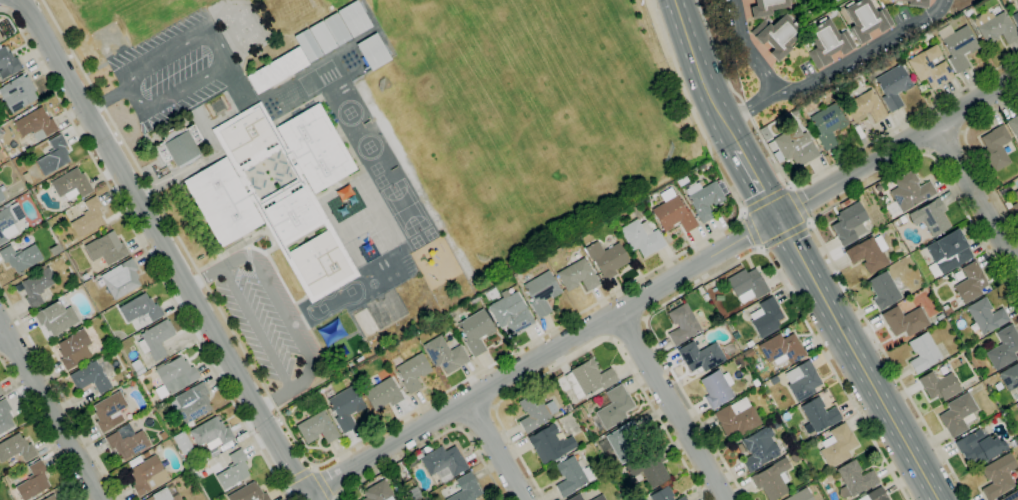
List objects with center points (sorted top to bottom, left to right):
building: (1017, 1)
building: (917, 3)
building: (766, 7)
park: (814, 9)
building: (968, 13)
road: (817, 15)
building: (1015, 18)
building: (866, 20)
building: (994, 27)
building: (926, 35)
building: (776, 36)
building: (1, 38)
building: (827, 43)
building: (312, 45)
building: (958, 45)
building: (373, 51)
road: (221, 55)
building: (8, 63)
road: (695, 63)
building: (929, 67)
road: (819, 77)
building: (893, 86)
building: (17, 93)
road: (106, 98)
road: (751, 107)
building: (865, 107)
building: (794, 113)
building: (35, 124)
building: (827, 124)
building: (1013, 125)
road: (946, 143)
building: (179, 145)
building: (792, 147)
building: (995, 149)
building: (53, 155)
road: (973, 155)
building: (705, 164)
road: (749, 171)
road: (813, 175)
building: (679, 182)
building: (71, 184)
building: (1005, 191)
building: (278, 192)
building: (908, 193)
building: (1016, 194)
building: (1, 197)
road: (766, 199)
building: (704, 200)
road: (976, 200)
building: (845, 202)
building: (69, 204)
road: (799, 204)
building: (1007, 205)
building: (1015, 208)
building: (673, 213)
building: (930, 217)
building: (88, 218)
traffic signals: (777, 218)
building: (902, 219)
building: (9, 221)
road: (812, 224)
building: (849, 224)
road: (752, 229)
road: (785, 233)
building: (642, 238)
building: (608, 243)
building: (106, 248)
road: (164, 248)
road: (146, 253)
building: (868, 253)
building: (947, 253)
building: (20, 257)
building: (606, 259)
road: (738, 259)
building: (577, 276)
building: (85, 277)
road: (205, 277)
building: (121, 279)
building: (970, 283)
road: (661, 285)
building: (747, 285)
building: (36, 286)
building: (883, 290)
building: (541, 292)
building: (718, 298)
building: (475, 301)
building: (140, 309)
building: (947, 311)
building: (510, 314)
building: (939, 316)
building: (986, 316)
building: (766, 317)
building: (55, 318)
building: (949, 318)
building: (904, 321)
building: (365, 322)
building: (682, 324)
road: (295, 328)
road: (257, 329)
road: (628, 329)
road: (1, 331)
building: (476, 331)
building: (156, 339)
building: (749, 344)
building: (1004, 348)
building: (74, 349)
building: (781, 349)
road: (586, 350)
building: (922, 352)
building: (748, 353)
building: (444, 355)
building: (700, 356)
road: (858, 358)
building: (358, 359)
building: (412, 372)
building: (128, 375)
building: (90, 377)
building: (174, 377)
building: (1009, 377)
building: (588, 379)
building: (773, 379)
building: (802, 380)
building: (755, 382)
building: (938, 386)
building: (716, 388)
building: (0, 392)
road: (60, 393)
building: (382, 393)
building: (192, 404)
building: (613, 406)
road: (670, 406)
building: (346, 407)
road: (49, 412)
building: (109, 412)
building: (535, 412)
building: (957, 414)
building: (818, 415)
building: (5, 416)
road: (478, 417)
road: (395, 418)
building: (736, 418)
building: (775, 424)
building: (317, 428)
road: (41, 430)
building: (162, 435)
building: (211, 435)
road: (433, 440)
building: (126, 441)
building: (622, 442)
building: (181, 443)
building: (550, 444)
building: (837, 445)
building: (979, 446)
building: (16, 448)
building: (758, 449)
road: (494, 450)
building: (145, 454)
building: (794, 457)
building: (443, 462)
building: (410, 463)
building: (192, 464)
building: (648, 468)
building: (233, 470)
building: (570, 475)
building: (148, 476)
road: (297, 476)
building: (825, 476)
building: (997, 476)
building: (772, 479)
building: (854, 479)
building: (33, 481)
road: (321, 484)
building: (464, 488)
building: (378, 492)
building: (414, 493)
building: (164, 494)
building: (248, 494)
building: (661, 494)
building: (800, 495)
building: (875, 495)
building: (1011, 496)
building: (575, 497)
building: (598, 497)
building: (50, 498)
building: (682, 498)
building: (57, 499)

